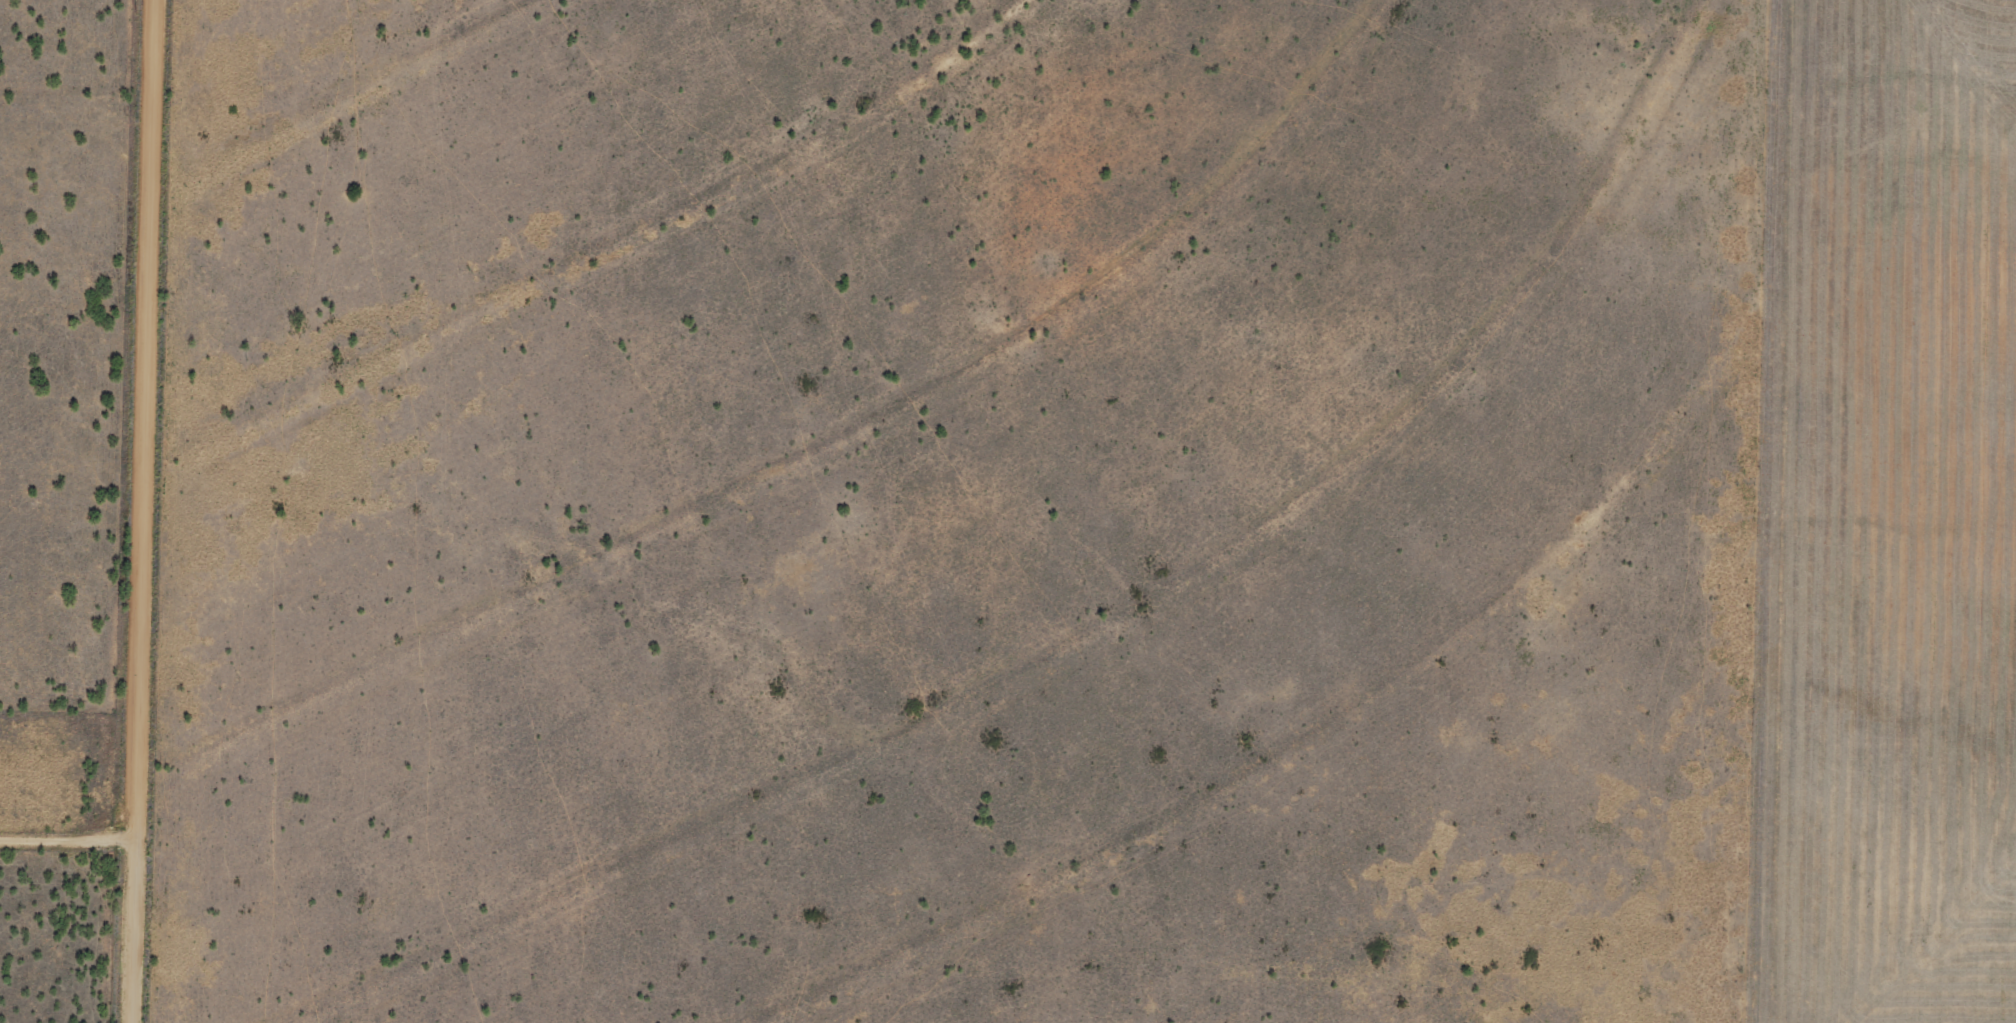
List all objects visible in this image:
road: (146, 511)
road: (68, 818)

